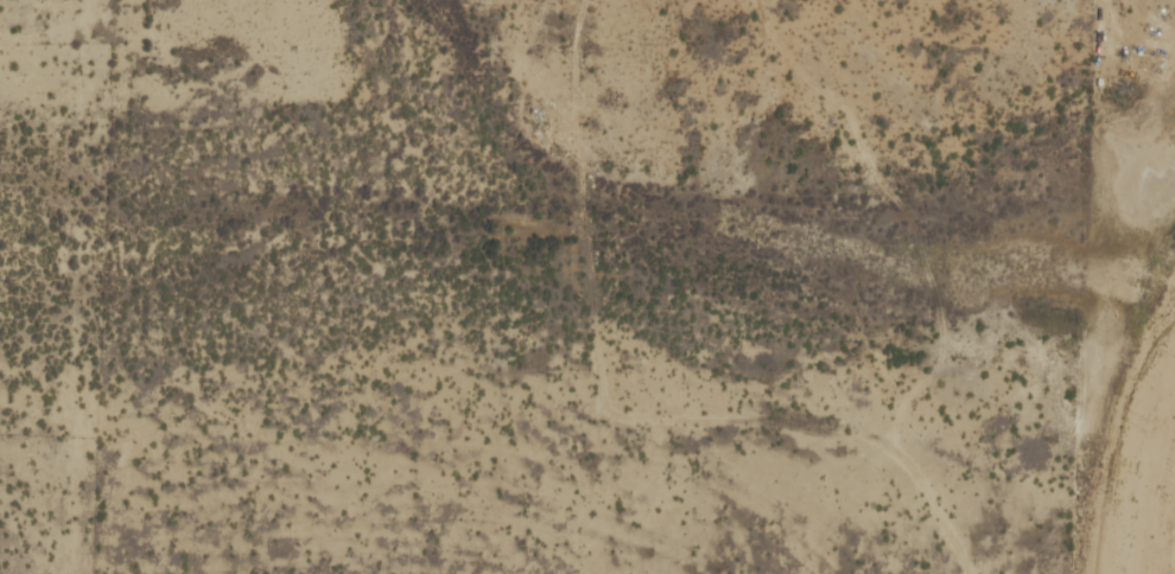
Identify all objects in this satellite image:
raceway: (1167, 515)

